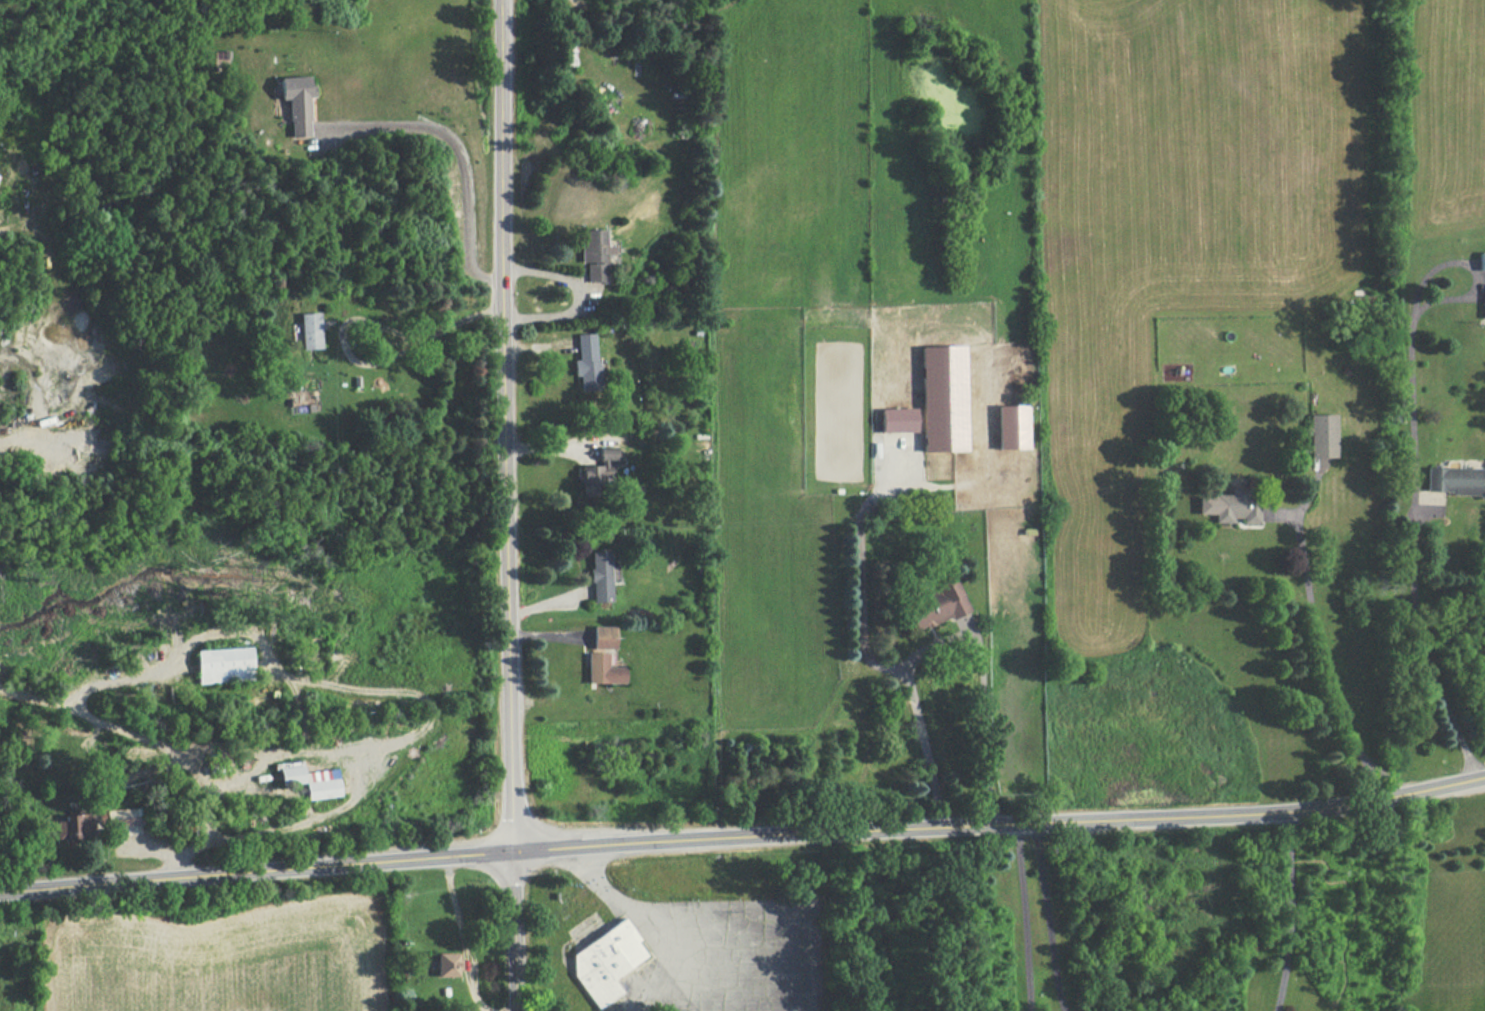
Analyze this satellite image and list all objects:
building: (567, 53)
building: (294, 104)
road: (463, 161)
building: (590, 253)
building: (1482, 302)
road: (370, 326)
building: (304, 331)
building: (584, 361)
building: (938, 398)
building: (894, 420)
building: (1010, 428)
building: (604, 455)
building: (1450, 480)
road: (504, 505)
building: (1233, 506)
building: (935, 603)
building: (598, 637)
road: (947, 646)
road: (1422, 650)
road: (1322, 661)
building: (597, 670)
road: (1000, 823)
road: (256, 869)
road: (644, 908)
road: (1290, 908)
road: (1024, 916)
road: (1048, 917)
building: (605, 959)
crop: (214, 962)
building: (443, 966)

